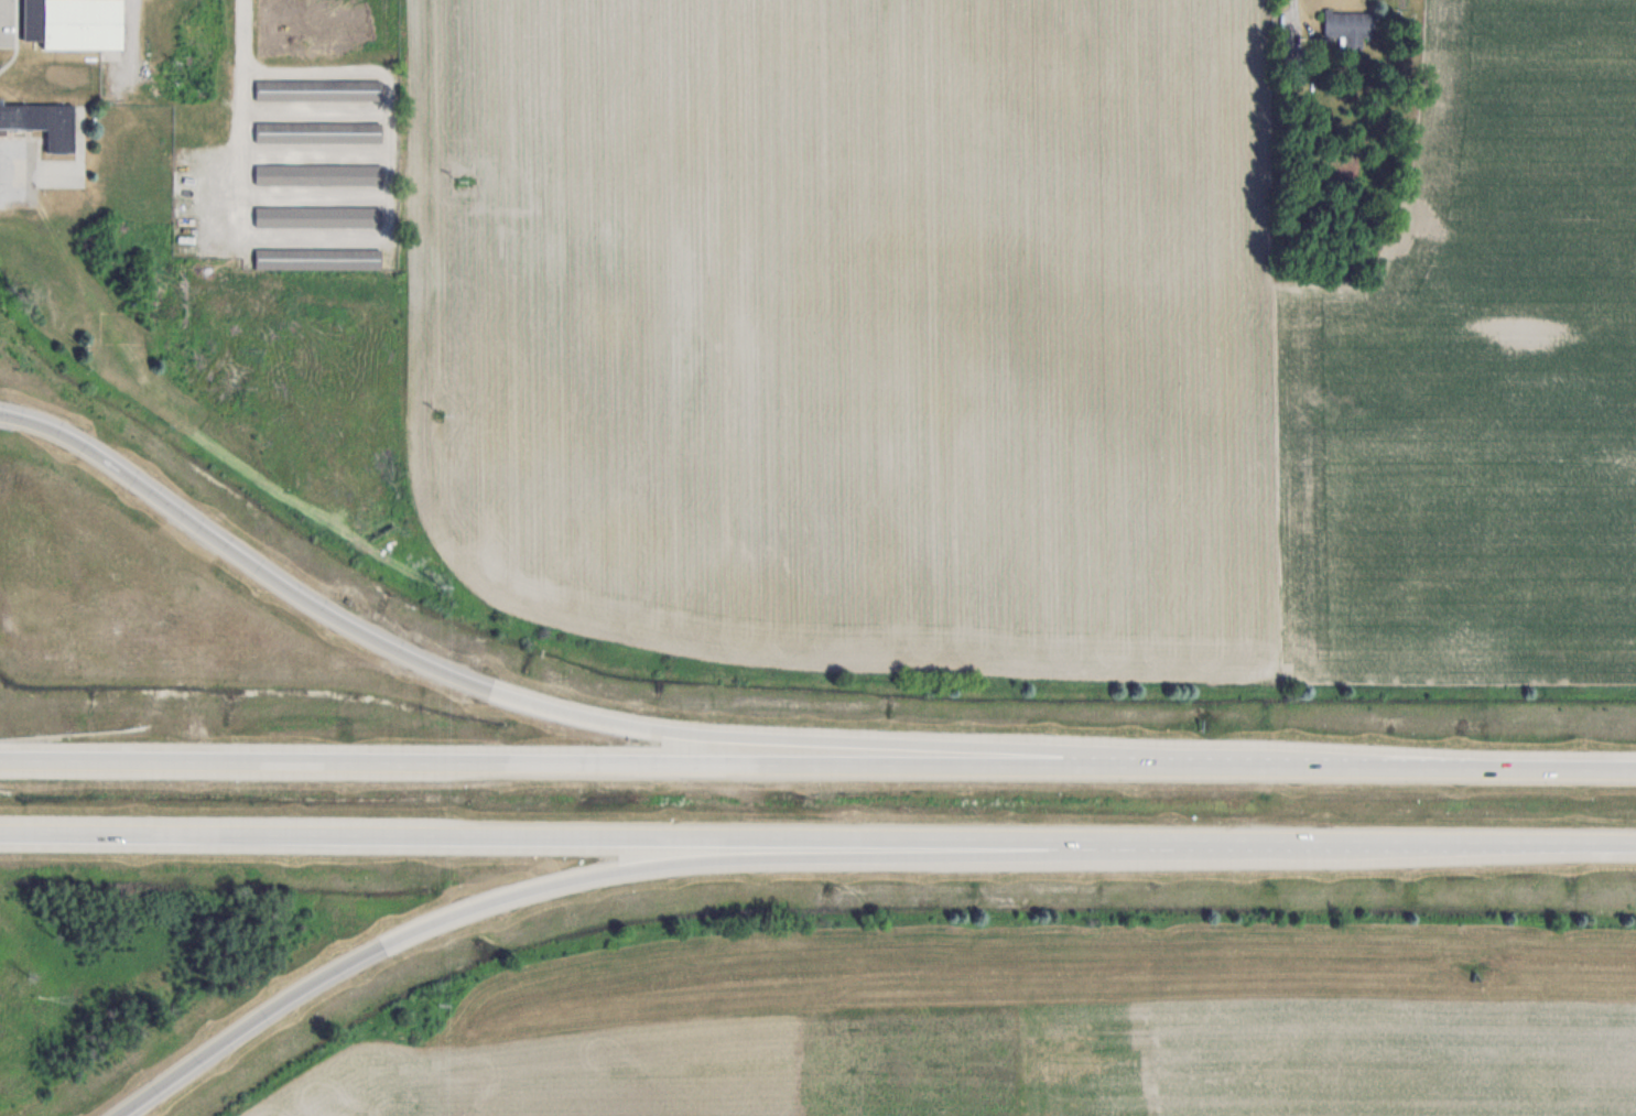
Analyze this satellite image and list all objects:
road: (1296, 18)
building: (73, 23)
building: (1345, 25)
building: (317, 90)
building: (42, 122)
building: (317, 131)
building: (317, 174)
building: (317, 216)
building: (317, 259)
road: (472, 682)
road: (817, 763)
road: (817, 837)
road: (560, 882)
crop: (1028, 1064)

